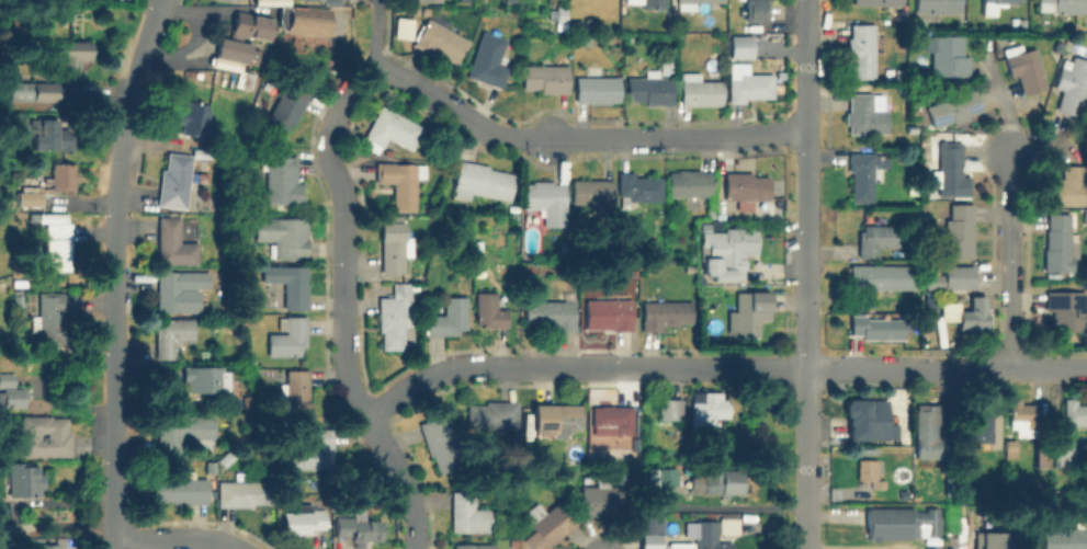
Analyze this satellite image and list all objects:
building: (294, 0)
building: (430, 1)
building: (879, 1)
building: (1001, 1)
road: (376, 2)
building: (647, 2)
building: (690, 3)
building: (939, 5)
building: (1063, 5)
building: (755, 10)
building: (562, 16)
building: (310, 21)
building: (577, 23)
building: (1024, 23)
building: (252, 26)
building: (405, 28)
road: (376, 35)
building: (584, 38)
building: (441, 41)
building: (740, 46)
building: (864, 48)
building: (236, 50)
building: (949, 55)
building: (71, 56)
building: (488, 58)
building: (1028, 69)
building: (902, 75)
building: (888, 76)
building: (546, 77)
building: (748, 82)
building: (650, 87)
building: (598, 88)
building: (700, 89)
building: (1074, 89)
building: (35, 91)
building: (286, 106)
building: (954, 107)
building: (868, 112)
building: (195, 119)
building: (393, 128)
building: (910, 129)
building: (53, 136)
road: (578, 138)
building: (951, 171)
building: (863, 173)
building: (64, 178)
building: (283, 181)
building: (175, 182)
building: (403, 182)
building: (484, 183)
building: (689, 183)
building: (746, 185)
building: (1069, 185)
building: (638, 186)
building: (591, 192)
building: (32, 197)
building: (548, 204)
building: (959, 231)
building: (286, 237)
road: (346, 237)
building: (877, 237)
building: (1058, 242)
building: (175, 244)
building: (392, 245)
building: (60, 248)
building: (728, 253)
road: (1011, 259)
road: (113, 272)
road: (806, 274)
building: (886, 278)
building: (951, 278)
building: (292, 286)
building: (179, 291)
building: (1066, 309)
building: (491, 312)
building: (665, 312)
building: (748, 312)
building: (609, 313)
building: (975, 314)
building: (552, 316)
building: (54, 318)
building: (395, 318)
building: (450, 318)
building: (879, 327)
building: (173, 338)
building: (290, 339)
road: (485, 368)
road: (659, 368)
road: (894, 368)
building: (208, 380)
building: (298, 394)
building: (14, 399)
building: (672, 411)
building: (710, 412)
building: (1075, 414)
building: (492, 415)
building: (1023, 416)
building: (558, 421)
building: (612, 421)
building: (932, 421)
building: (871, 422)
building: (183, 433)
building: (981, 433)
building: (47, 437)
building: (442, 448)
building: (1064, 449)
building: (317, 450)
building: (869, 470)
building: (664, 478)
road: (403, 479)
building: (713, 481)
building: (24, 482)
building: (183, 491)
building: (247, 494)
building: (601, 497)
building: (471, 516)
building: (305, 523)
building: (905, 525)
building: (361, 527)
building: (550, 528)
building: (652, 528)
building: (714, 531)
road: (175, 539)
building: (1066, 539)
building: (992, 540)
road: (947, 546)
building: (475, 547)
building: (43, 548)

